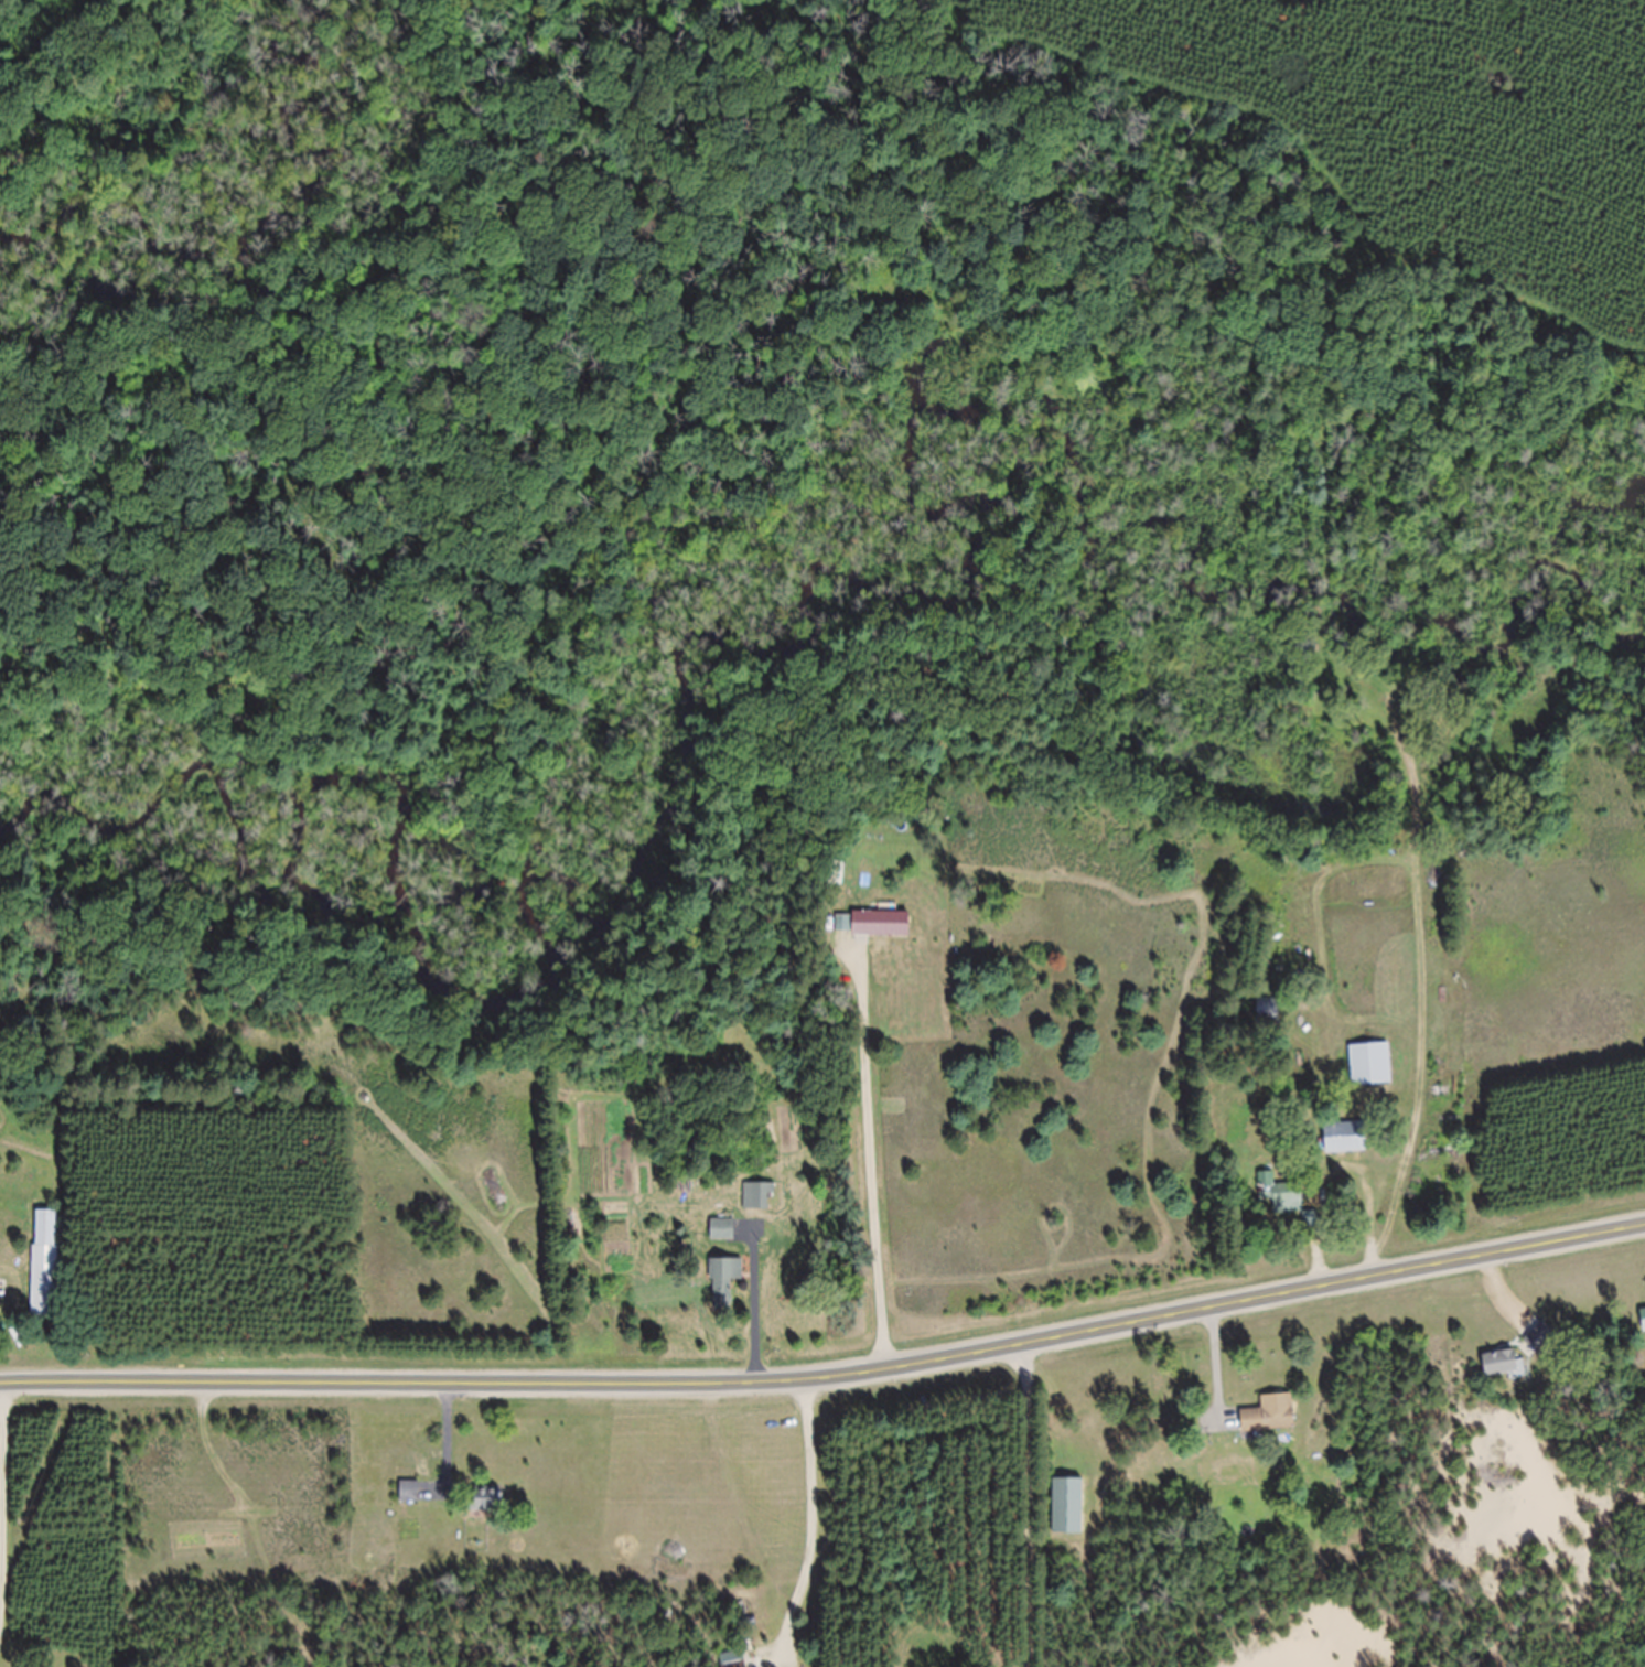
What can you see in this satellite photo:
building: (842, 936)
building: (881, 936)
building: (1269, 1023)
building: (1372, 1076)
road: (889, 1148)
building: (1347, 1149)
building: (1281, 1205)
building: (759, 1207)
building: (723, 1240)
building: (46, 1276)
building: (725, 1292)
building: (1644, 1330)
building: (1501, 1375)
road: (829, 1388)
building: (1270, 1427)
building: (410, 1504)
building: (485, 1510)
building: (1068, 1518)
road: (808, 1525)

